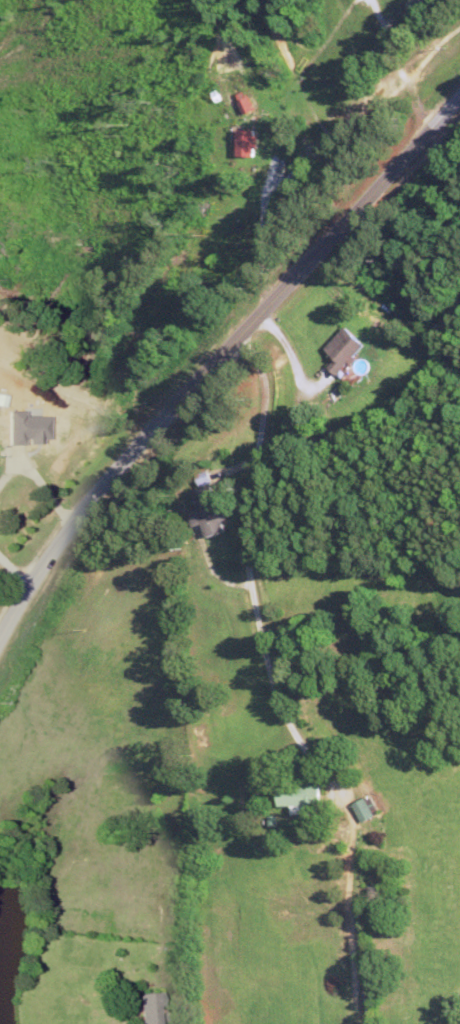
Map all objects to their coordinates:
building: (246, 143)
building: (343, 350)
road: (224, 357)
building: (26, 427)
building: (208, 512)
road: (10, 569)
road: (282, 651)
building: (300, 799)
building: (364, 810)
building: (149, 1009)

